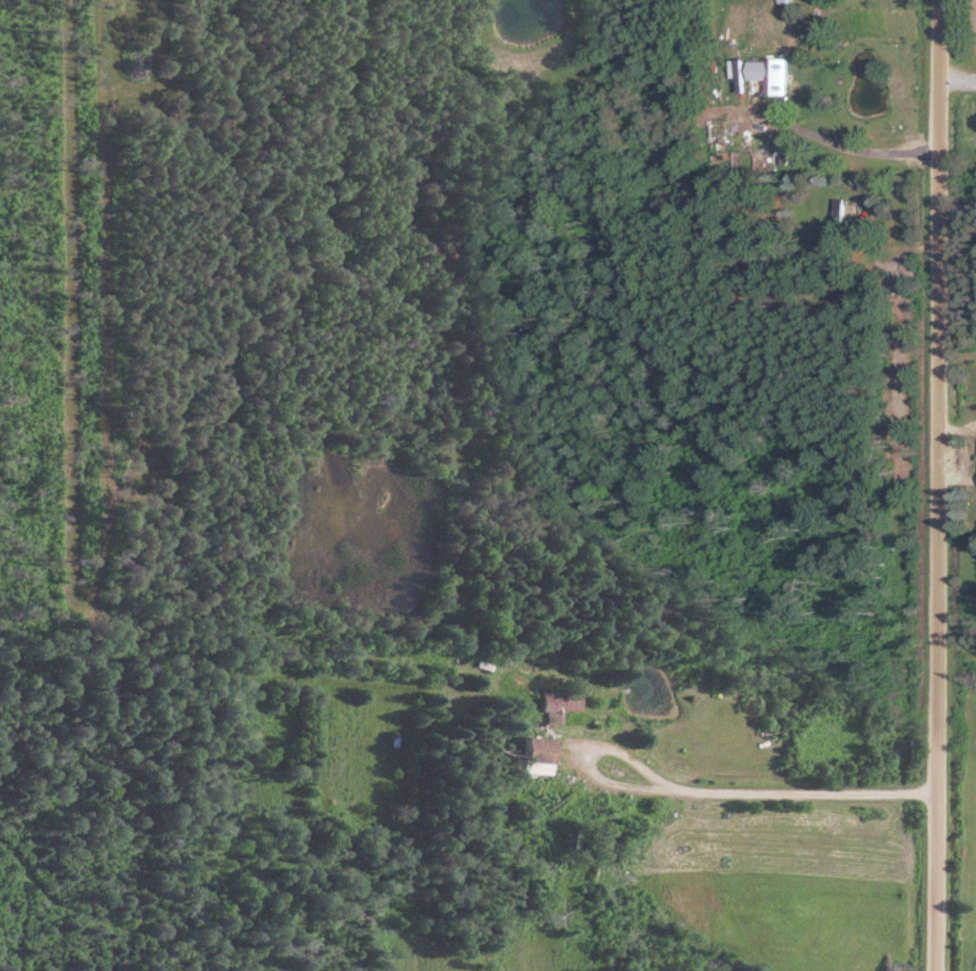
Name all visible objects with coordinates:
building: (775, 75)
road: (852, 146)
building: (842, 218)
road: (941, 485)
building: (562, 705)
building: (542, 751)
road: (740, 789)

